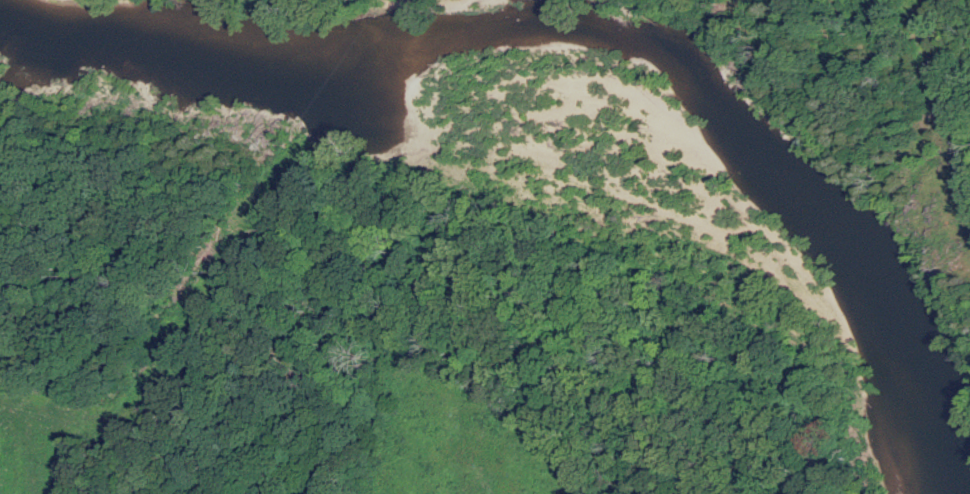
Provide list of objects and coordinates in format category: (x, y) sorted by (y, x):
river: (596, 38)

